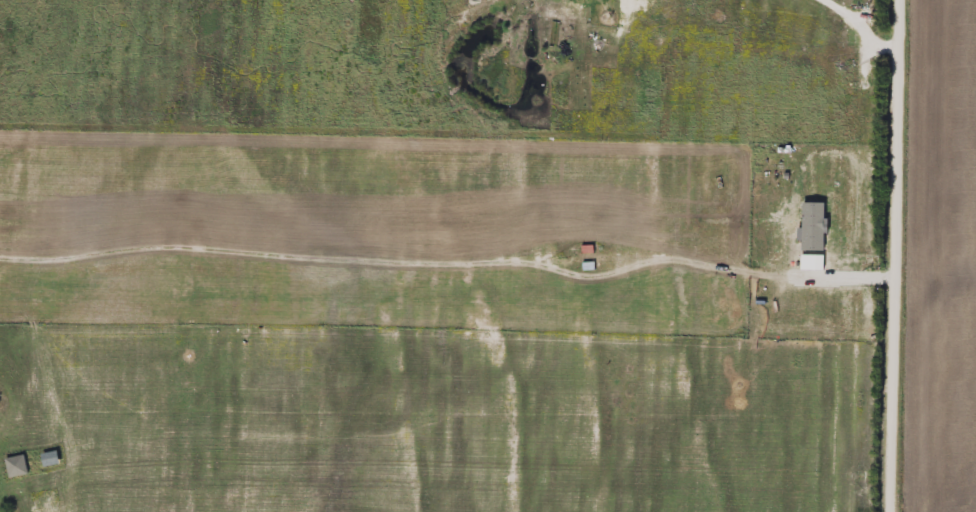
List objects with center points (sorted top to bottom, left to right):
road: (861, 23)
road: (890, 255)

